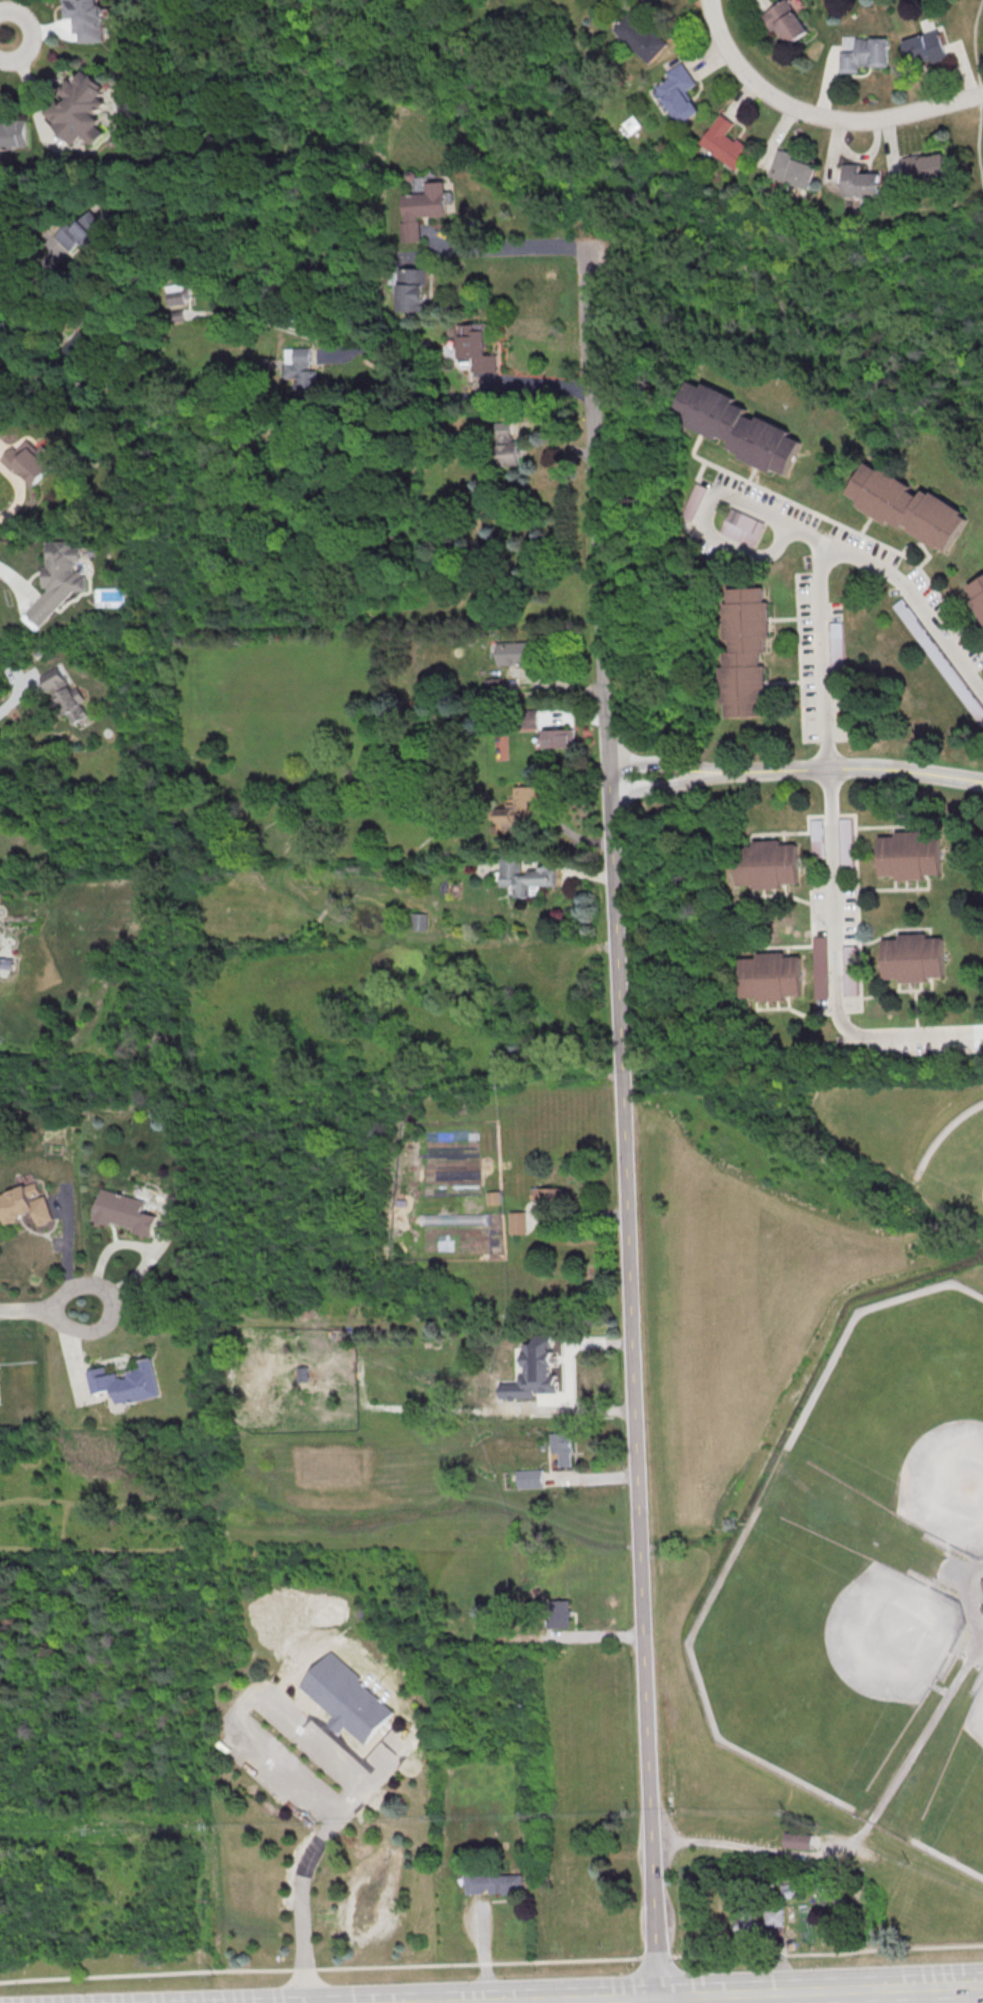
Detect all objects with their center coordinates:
park: (886, 6)
building: (87, 18)
building: (785, 22)
building: (641, 35)
road: (3, 37)
building: (924, 47)
building: (865, 54)
road: (977, 92)
road: (29, 93)
building: (680, 93)
building: (78, 106)
road: (817, 115)
building: (12, 131)
building: (726, 142)
building: (926, 167)
building: (795, 169)
building: (861, 182)
building: (422, 208)
building: (86, 229)
road: (496, 248)
park: (822, 286)
building: (411, 289)
building: (178, 293)
road: (7, 295)
building: (82, 348)
building: (475, 348)
road: (413, 366)
building: (300, 369)
building: (733, 426)
building: (506, 443)
building: (31, 460)
road: (15, 493)
building: (694, 501)
building: (908, 506)
road: (710, 511)
building: (742, 527)
building: (59, 578)
building: (979, 595)
building: (921, 635)
building: (836, 647)
building: (511, 653)
building: (747, 653)
road: (825, 670)
road: (15, 695)
building: (66, 697)
building: (529, 718)
building: (558, 738)
road: (665, 763)
road: (853, 767)
road: (667, 786)
building: (521, 811)
building: (816, 837)
building: (845, 841)
building: (911, 855)
building: (768, 864)
building: (525, 877)
building: (419, 921)
building: (913, 958)
building: (773, 977)
road: (908, 1039)
road: (621, 1120)
park: (958, 1154)
building: (22, 1206)
building: (121, 1212)
building: (517, 1222)
road: (67, 1256)
road: (133, 1278)
road: (42, 1308)
building: (535, 1372)
building: (125, 1383)
park: (906, 1399)
building: (562, 1447)
building: (529, 1478)
park: (820, 1484)
building: (982, 1582)
road: (969, 1597)
building: (982, 1609)
building: (560, 1613)
park: (797, 1665)
road: (256, 1695)
building: (350, 1704)
road: (921, 1741)
road: (384, 1764)
park: (965, 1828)
building: (797, 1841)
road: (753, 1848)
building: (492, 1884)
road: (299, 1903)
building: (771, 1917)
building: (743, 1923)
road: (482, 1948)
road: (774, 1959)
road: (491, 1962)
road: (820, 1991)
road: (585, 2000)

